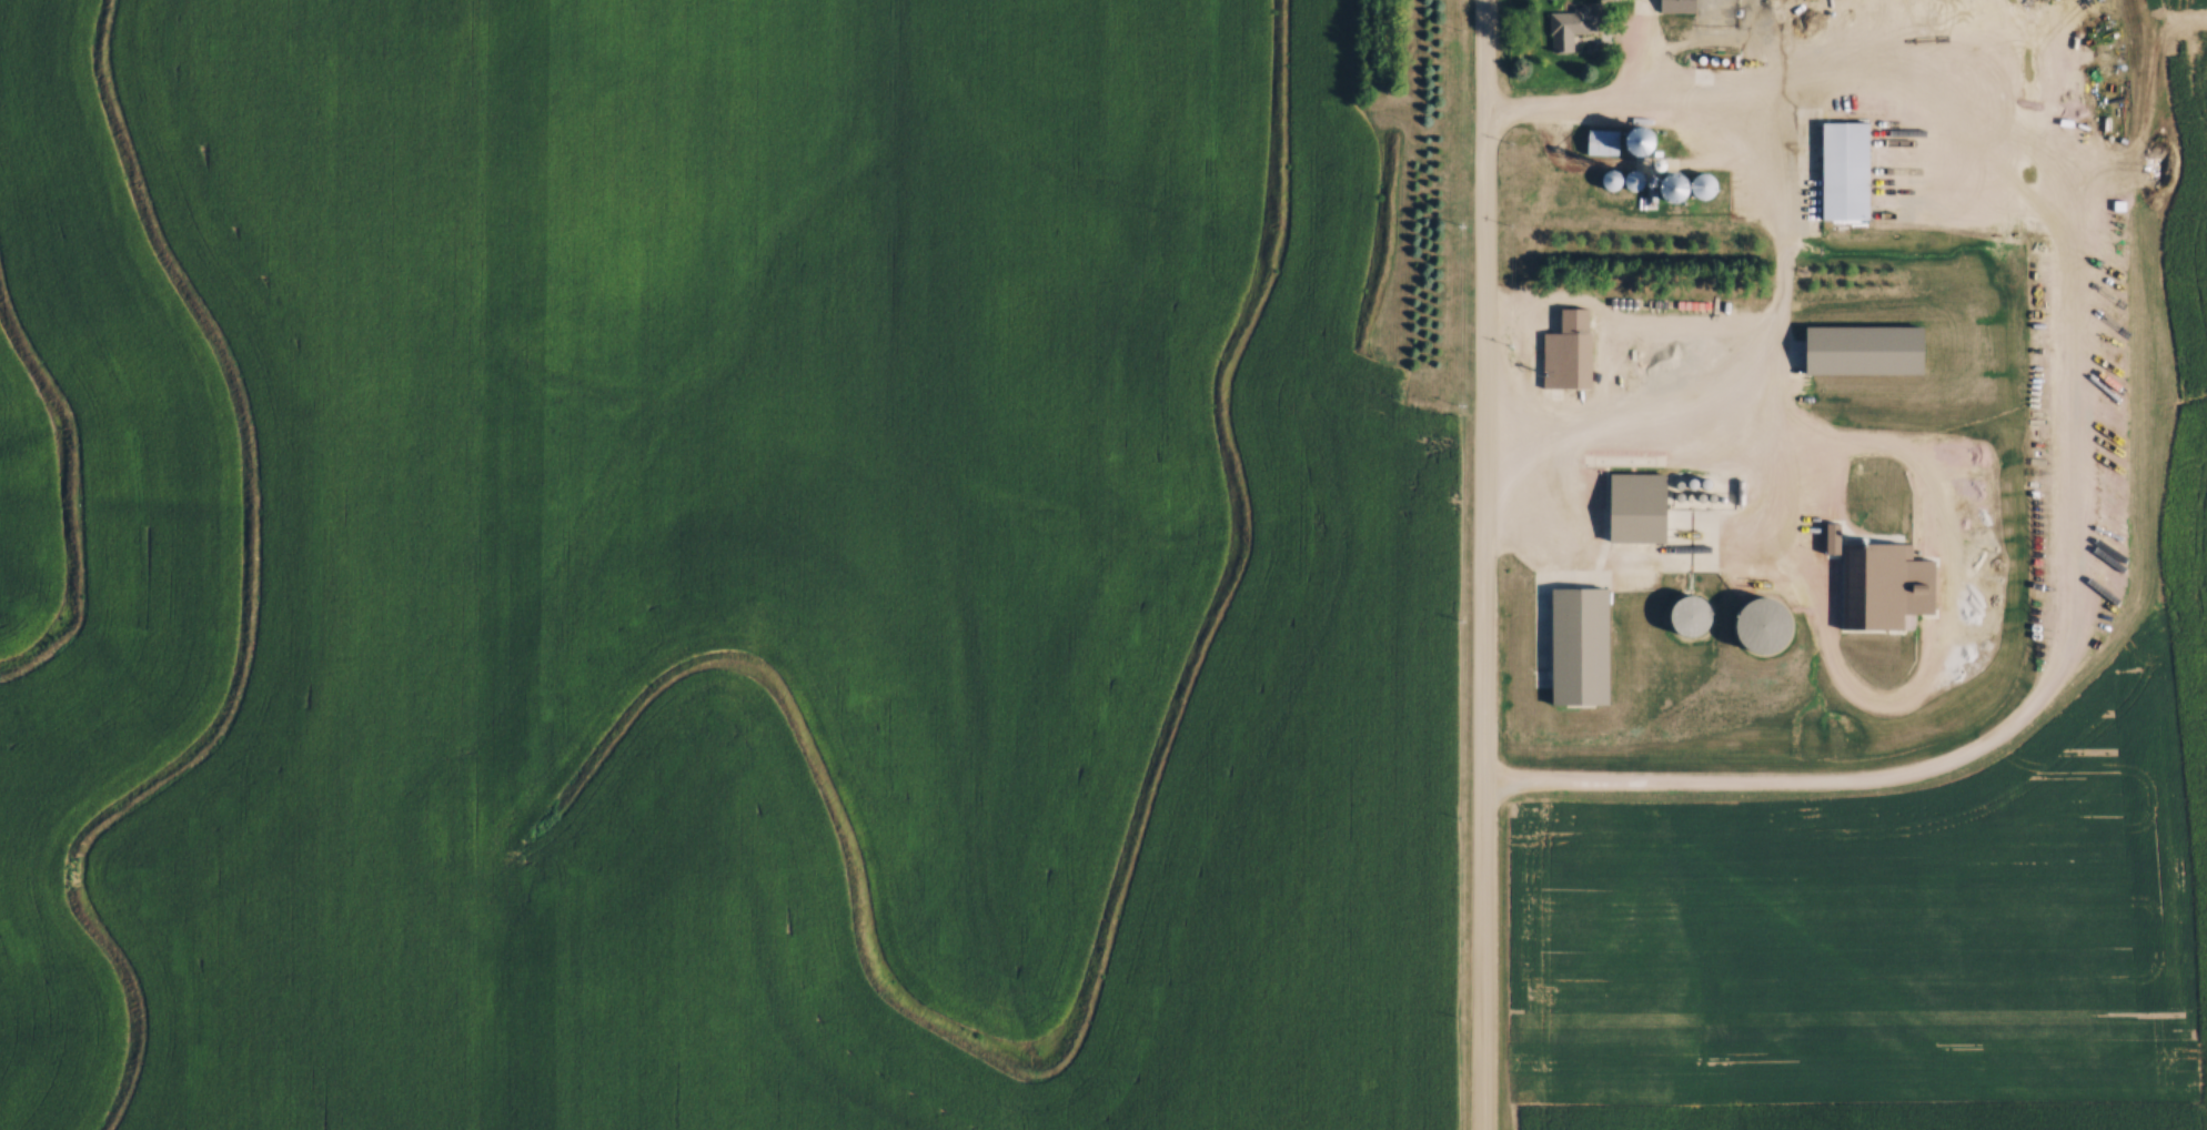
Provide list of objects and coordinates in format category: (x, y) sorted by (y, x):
building: (1681, 4)
building: (1570, 24)
road: (1583, 118)
building: (1600, 139)
building: (1853, 169)
building: (1616, 175)
building: (1565, 347)
building: (1872, 349)
building: (1644, 503)
road: (1485, 564)
building: (1679, 611)
building: (1584, 642)

